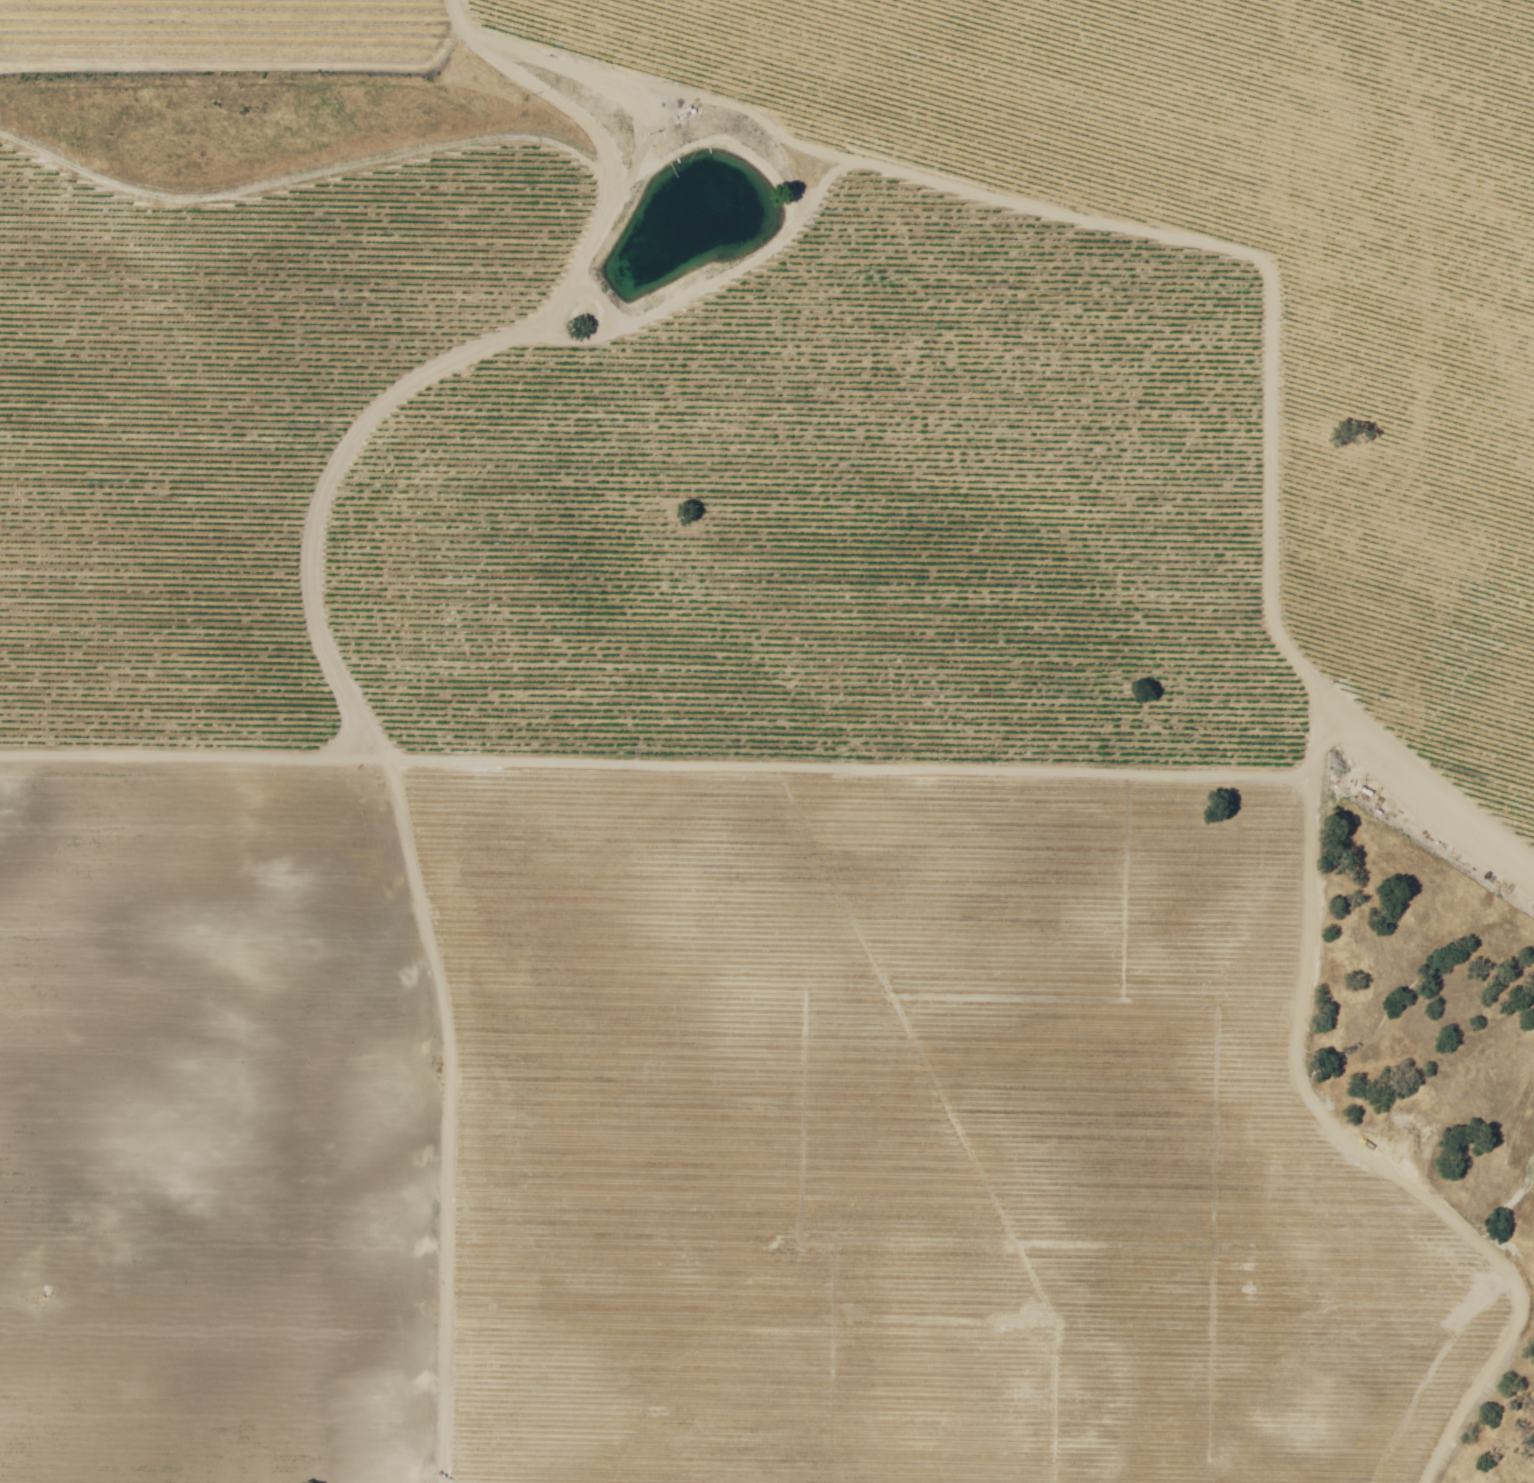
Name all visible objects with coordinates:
crop: (222, 35)
crop: (1408, 452)

